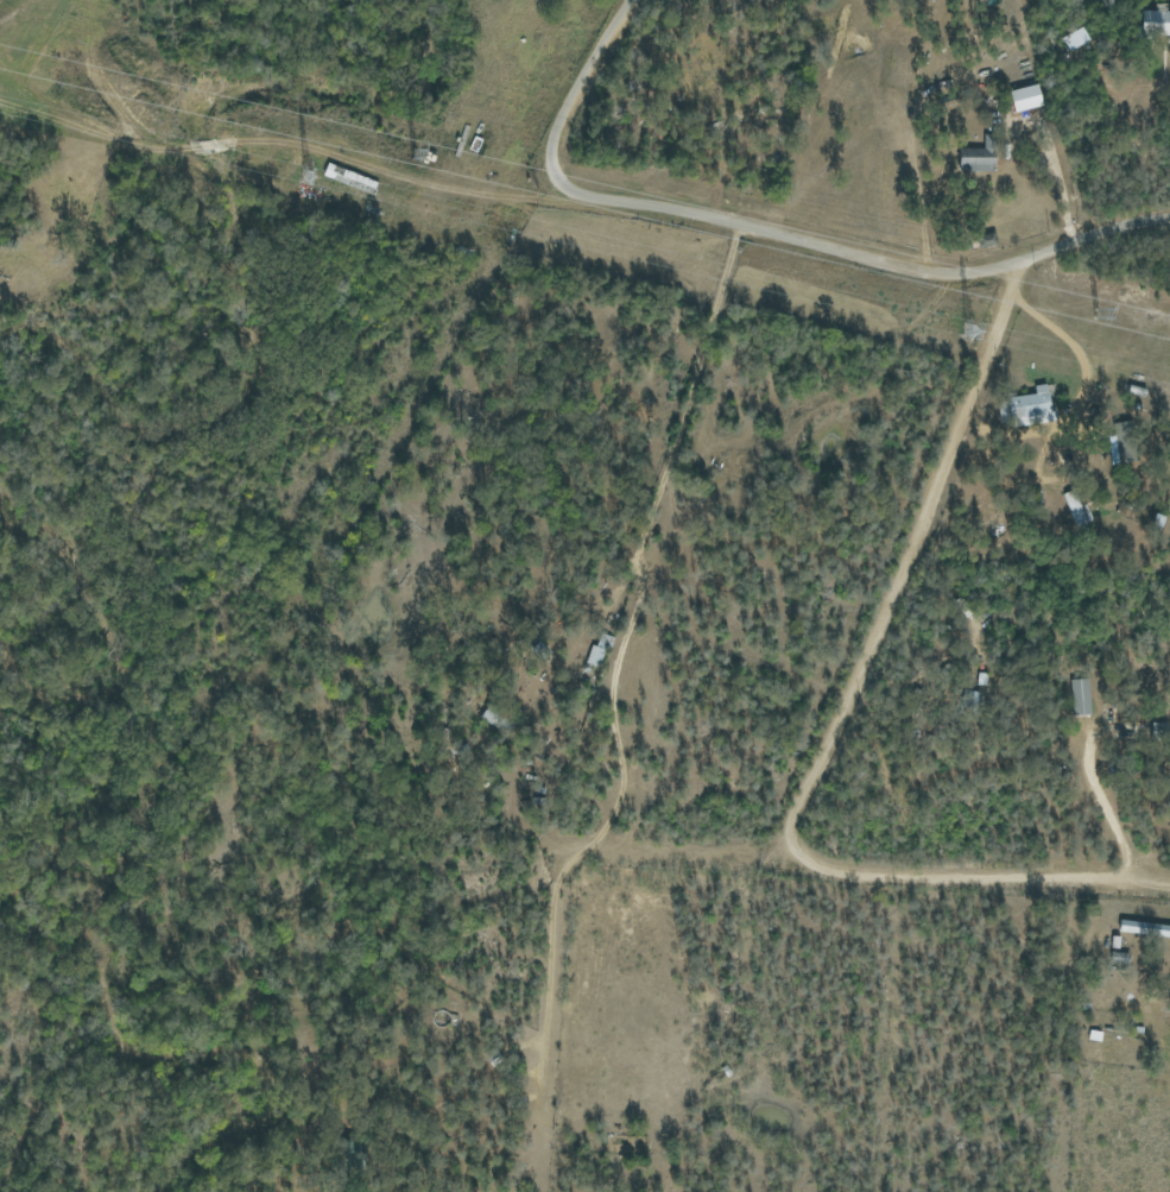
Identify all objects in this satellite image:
building: (1156, 21)
building: (1075, 38)
road: (1140, 90)
building: (1026, 97)
road: (274, 146)
building: (980, 157)
power tower: (412, 159)
power tower: (306, 179)
road: (763, 229)
power tower: (1095, 317)
power tower: (967, 335)
road: (1070, 402)
building: (1030, 406)
building: (1125, 441)
building: (1075, 509)
road: (910, 548)
road: (637, 557)
building: (1077, 696)
road: (1101, 806)
road: (972, 878)
building: (1144, 928)
road: (545, 977)

